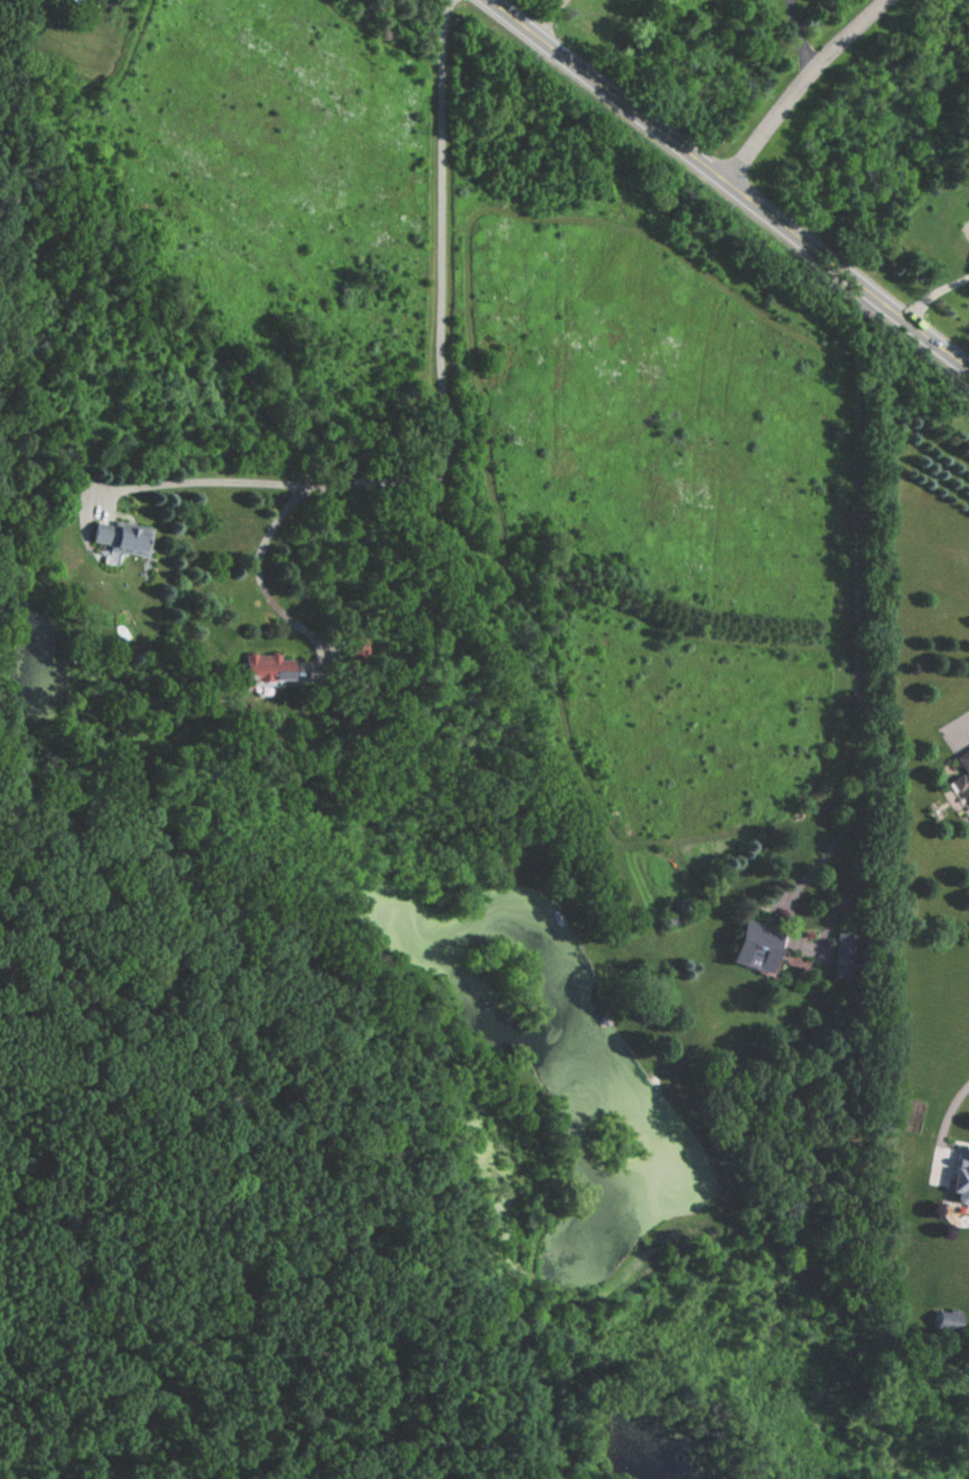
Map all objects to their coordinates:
road: (549, 18)
road: (800, 38)
road: (802, 91)
road: (729, 185)
building: (968, 206)
road: (934, 294)
road: (443, 393)
building: (118, 539)
road: (258, 567)
building: (266, 667)
road: (856, 710)
road: (964, 717)
building: (961, 767)
building: (753, 946)
building: (840, 956)
road: (950, 1112)
building: (955, 1172)
building: (946, 1320)

